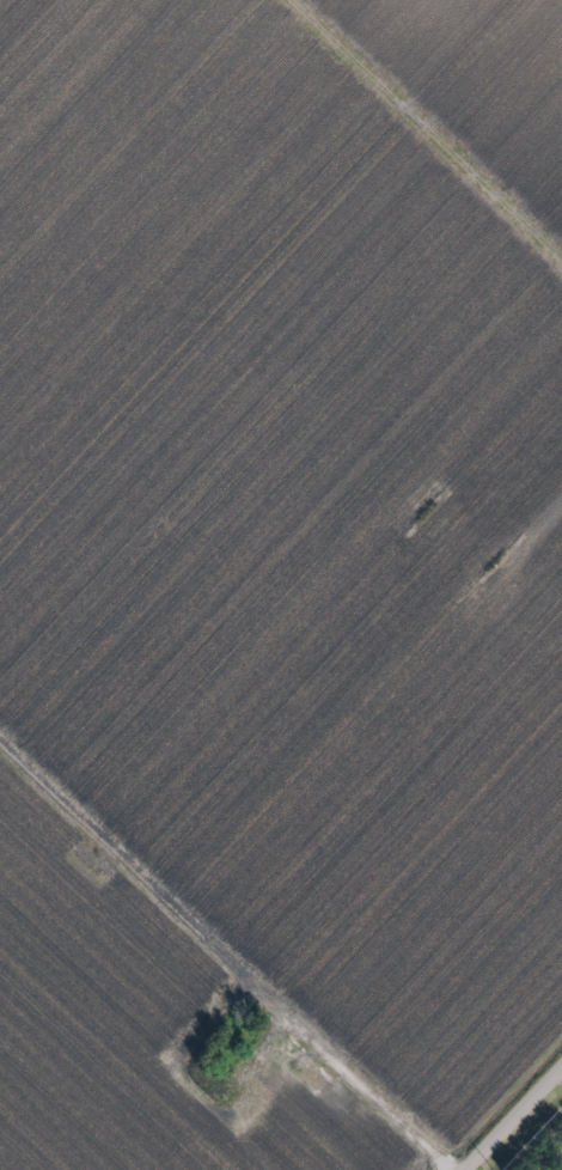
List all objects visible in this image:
road: (560, 1073)
road: (514, 1117)

